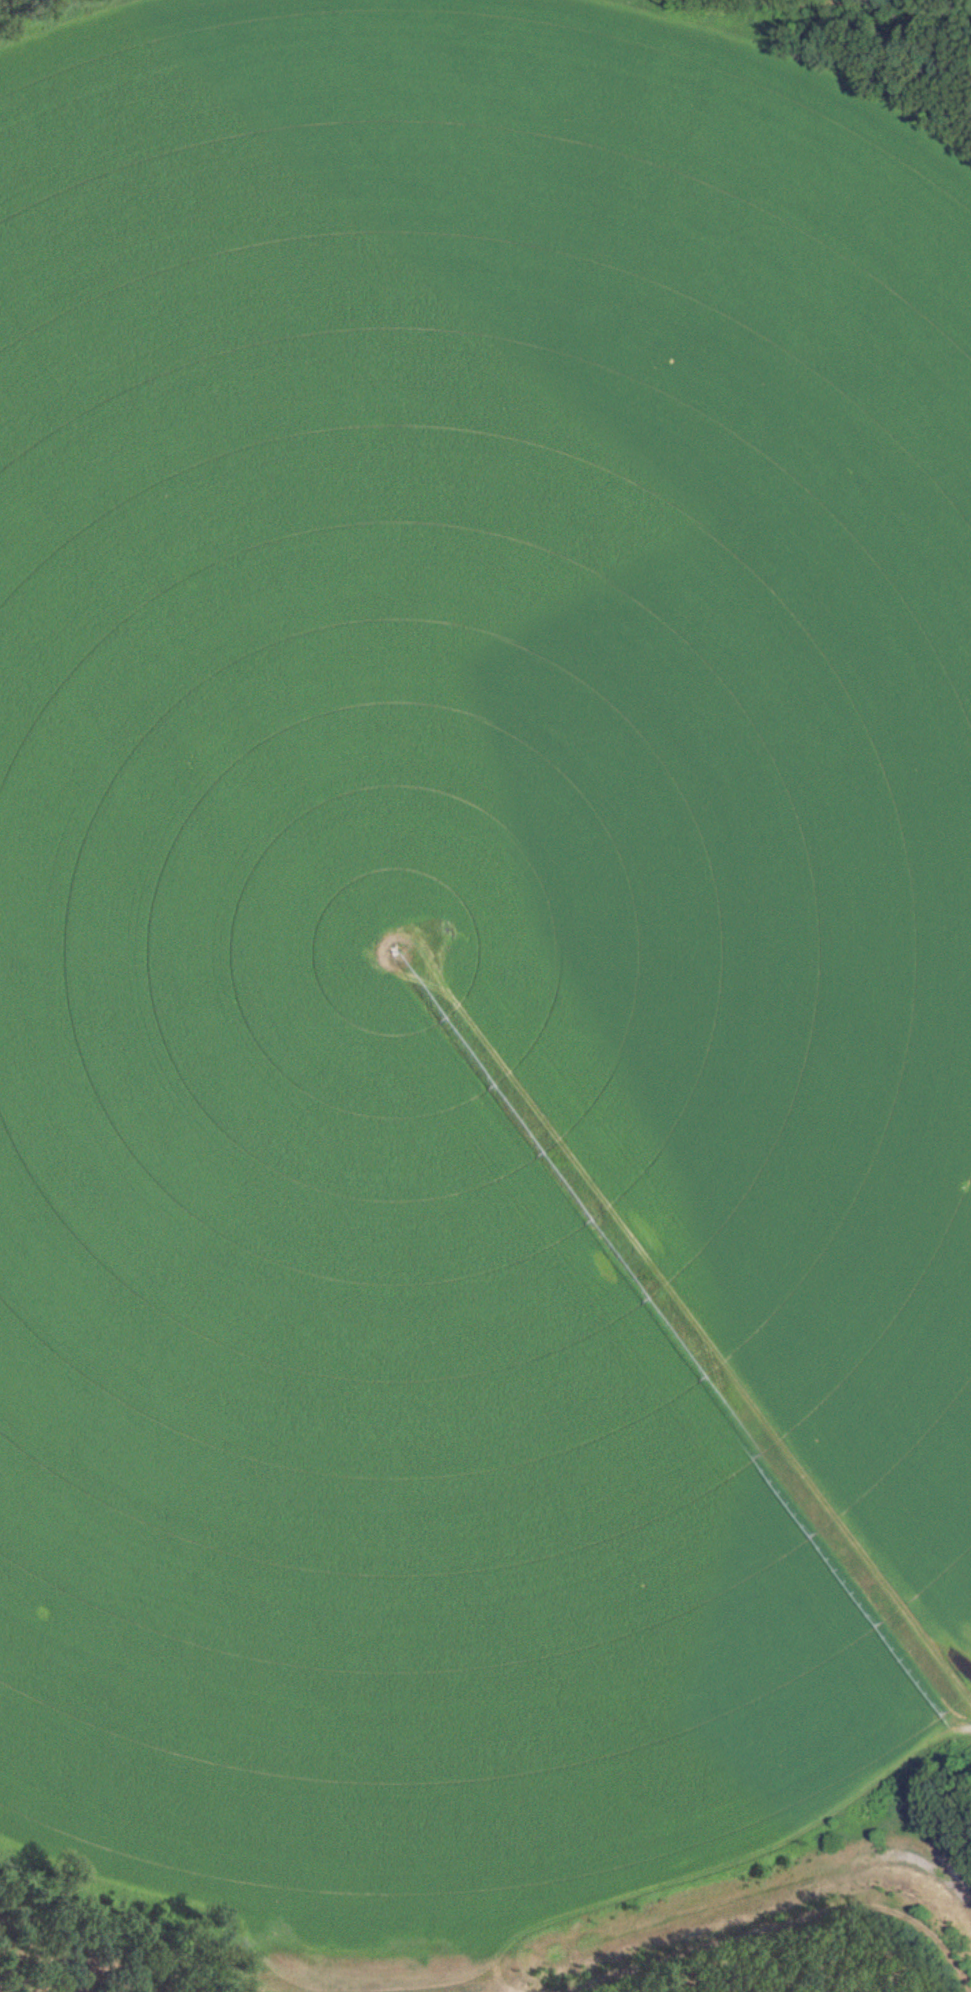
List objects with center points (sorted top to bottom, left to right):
road: (864, 14)

